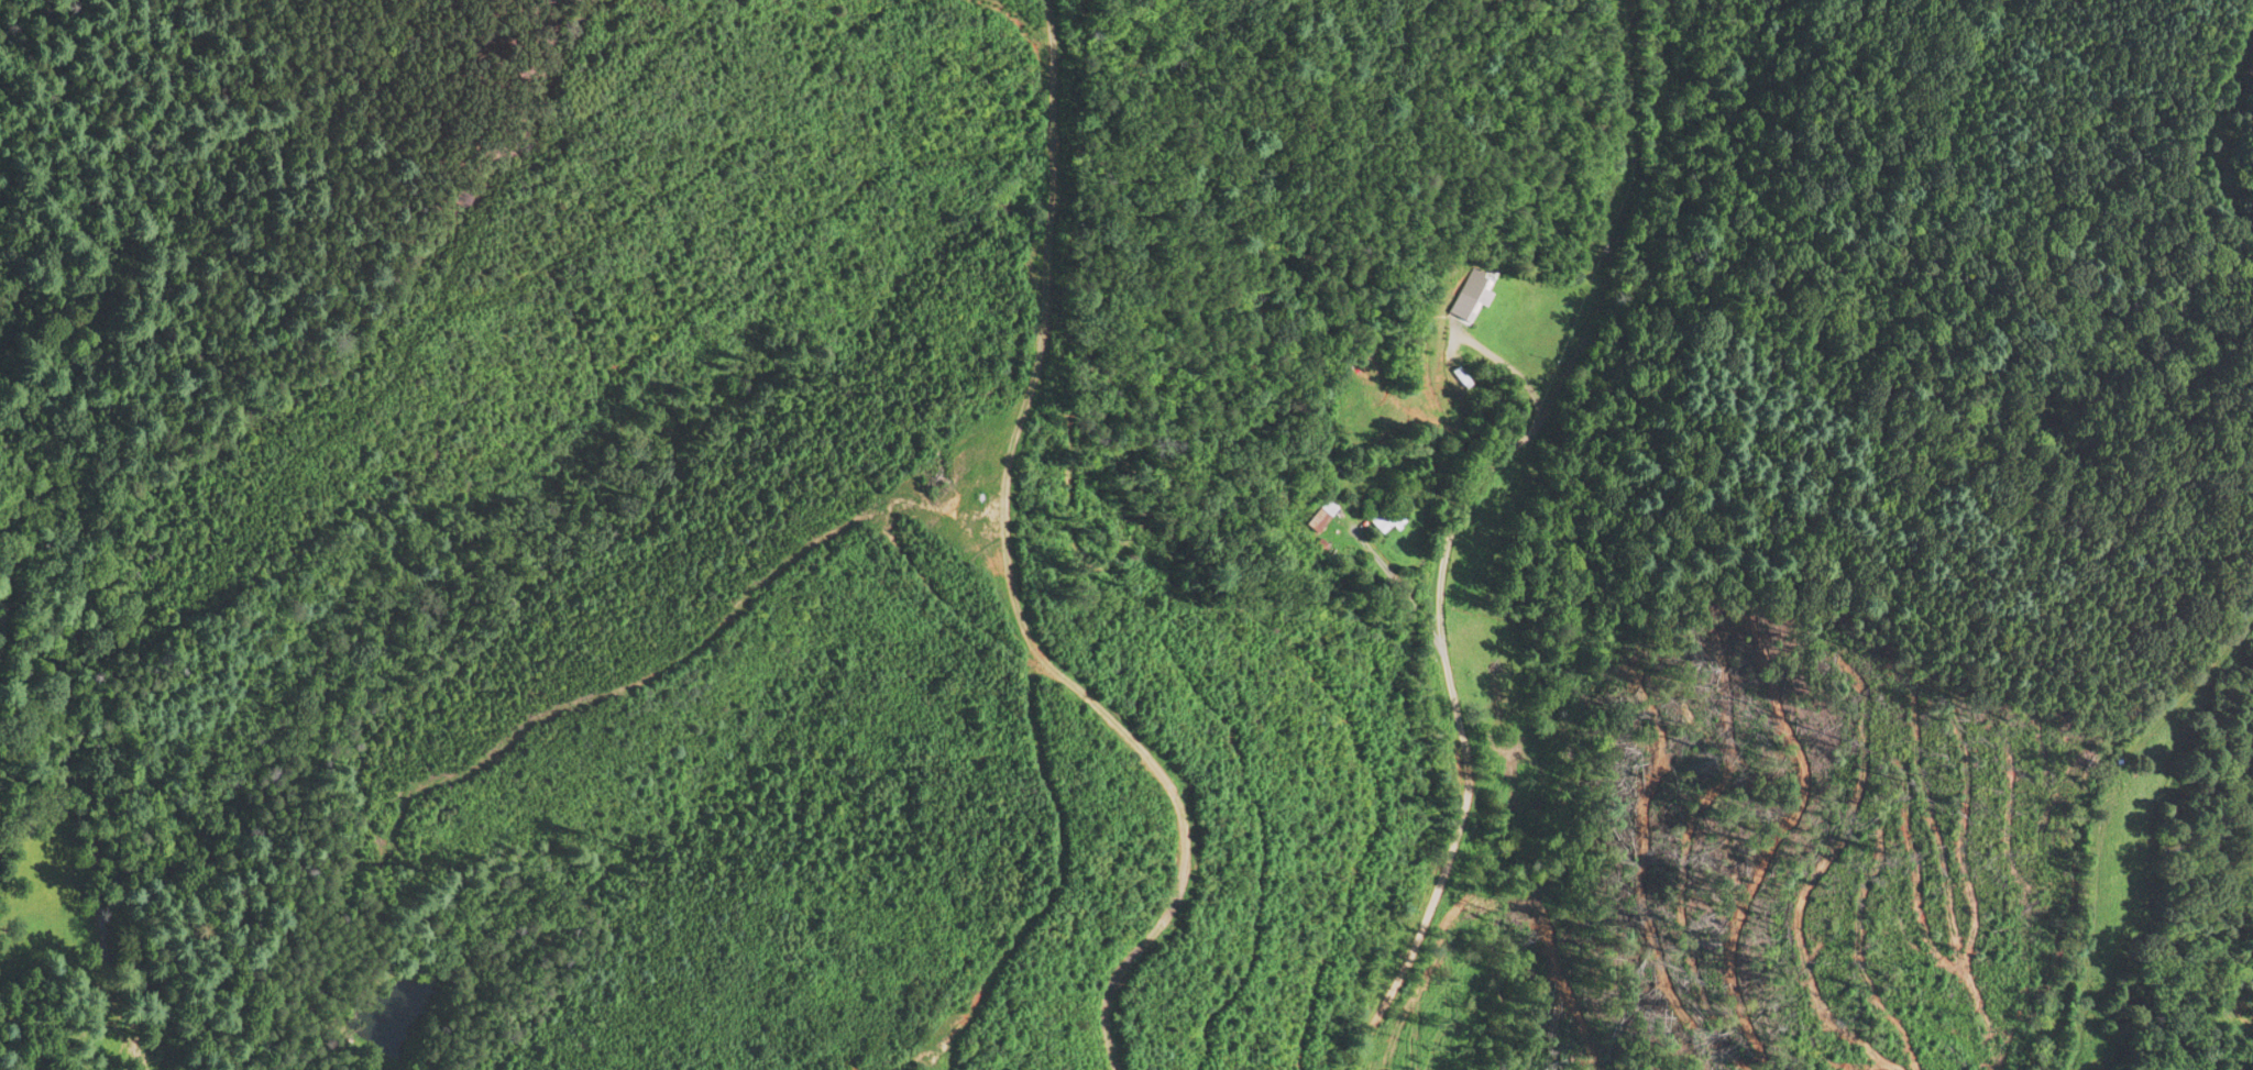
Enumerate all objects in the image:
building: (1476, 301)
building: (1327, 516)
building: (1389, 517)
road: (1458, 733)

